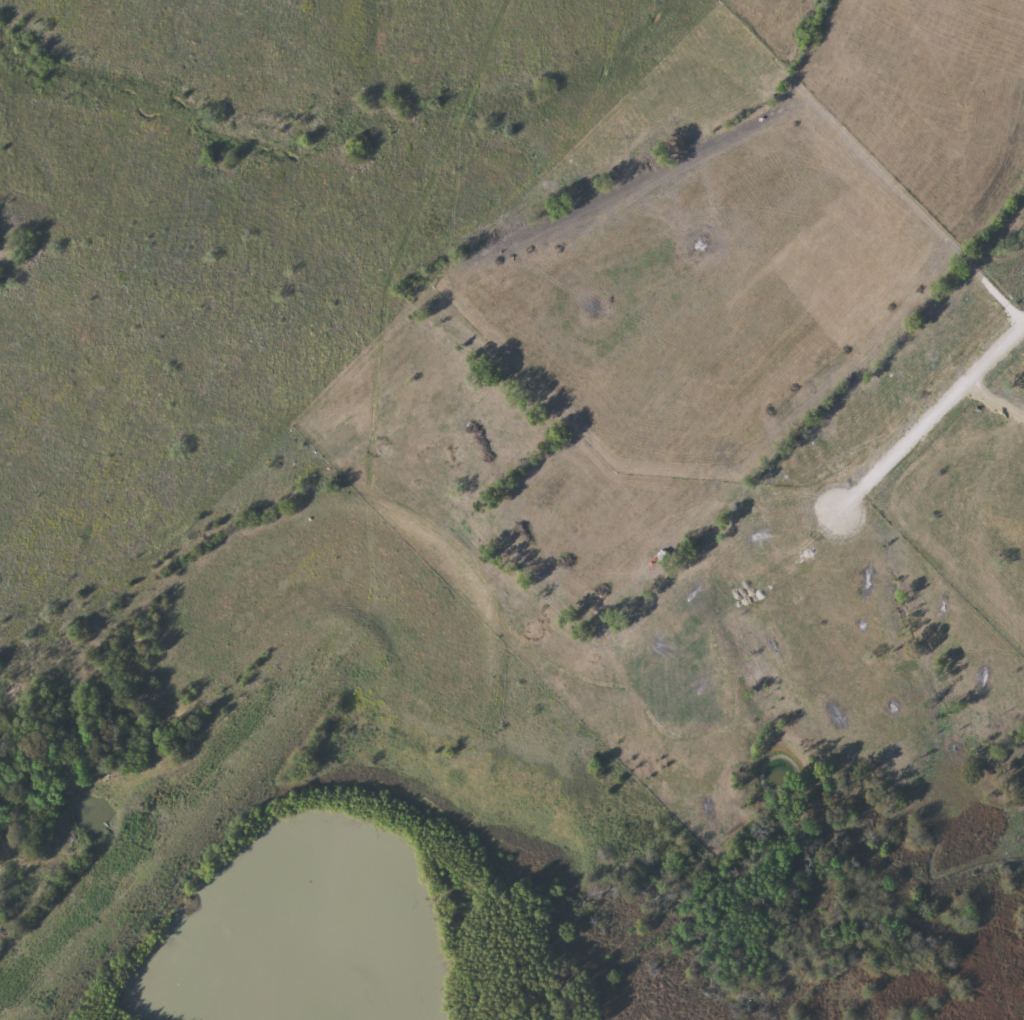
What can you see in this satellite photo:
road: (888, 305)

